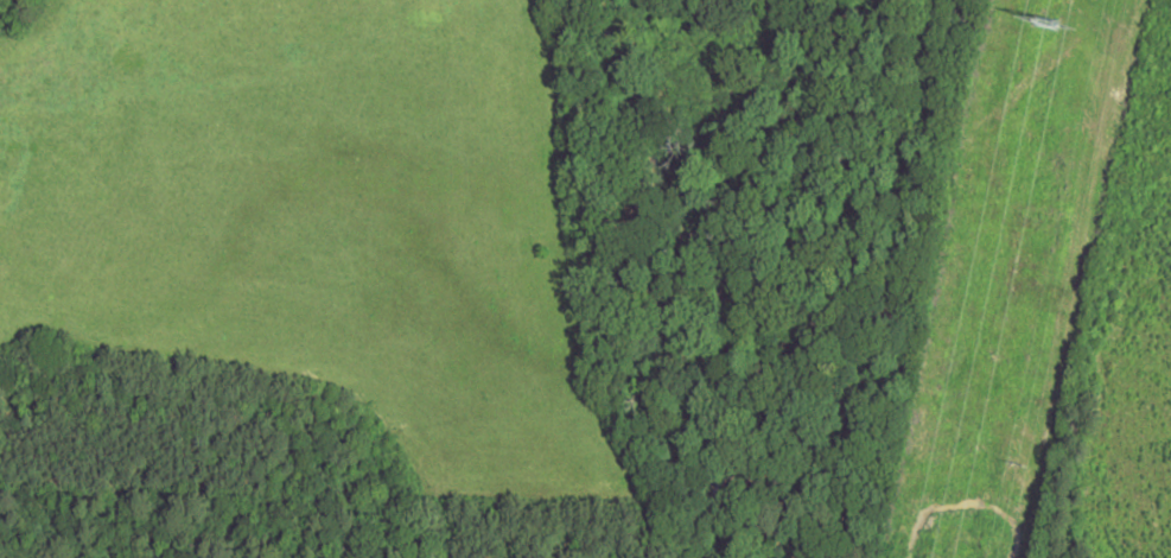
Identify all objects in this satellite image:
power tower: (1032, 21)

